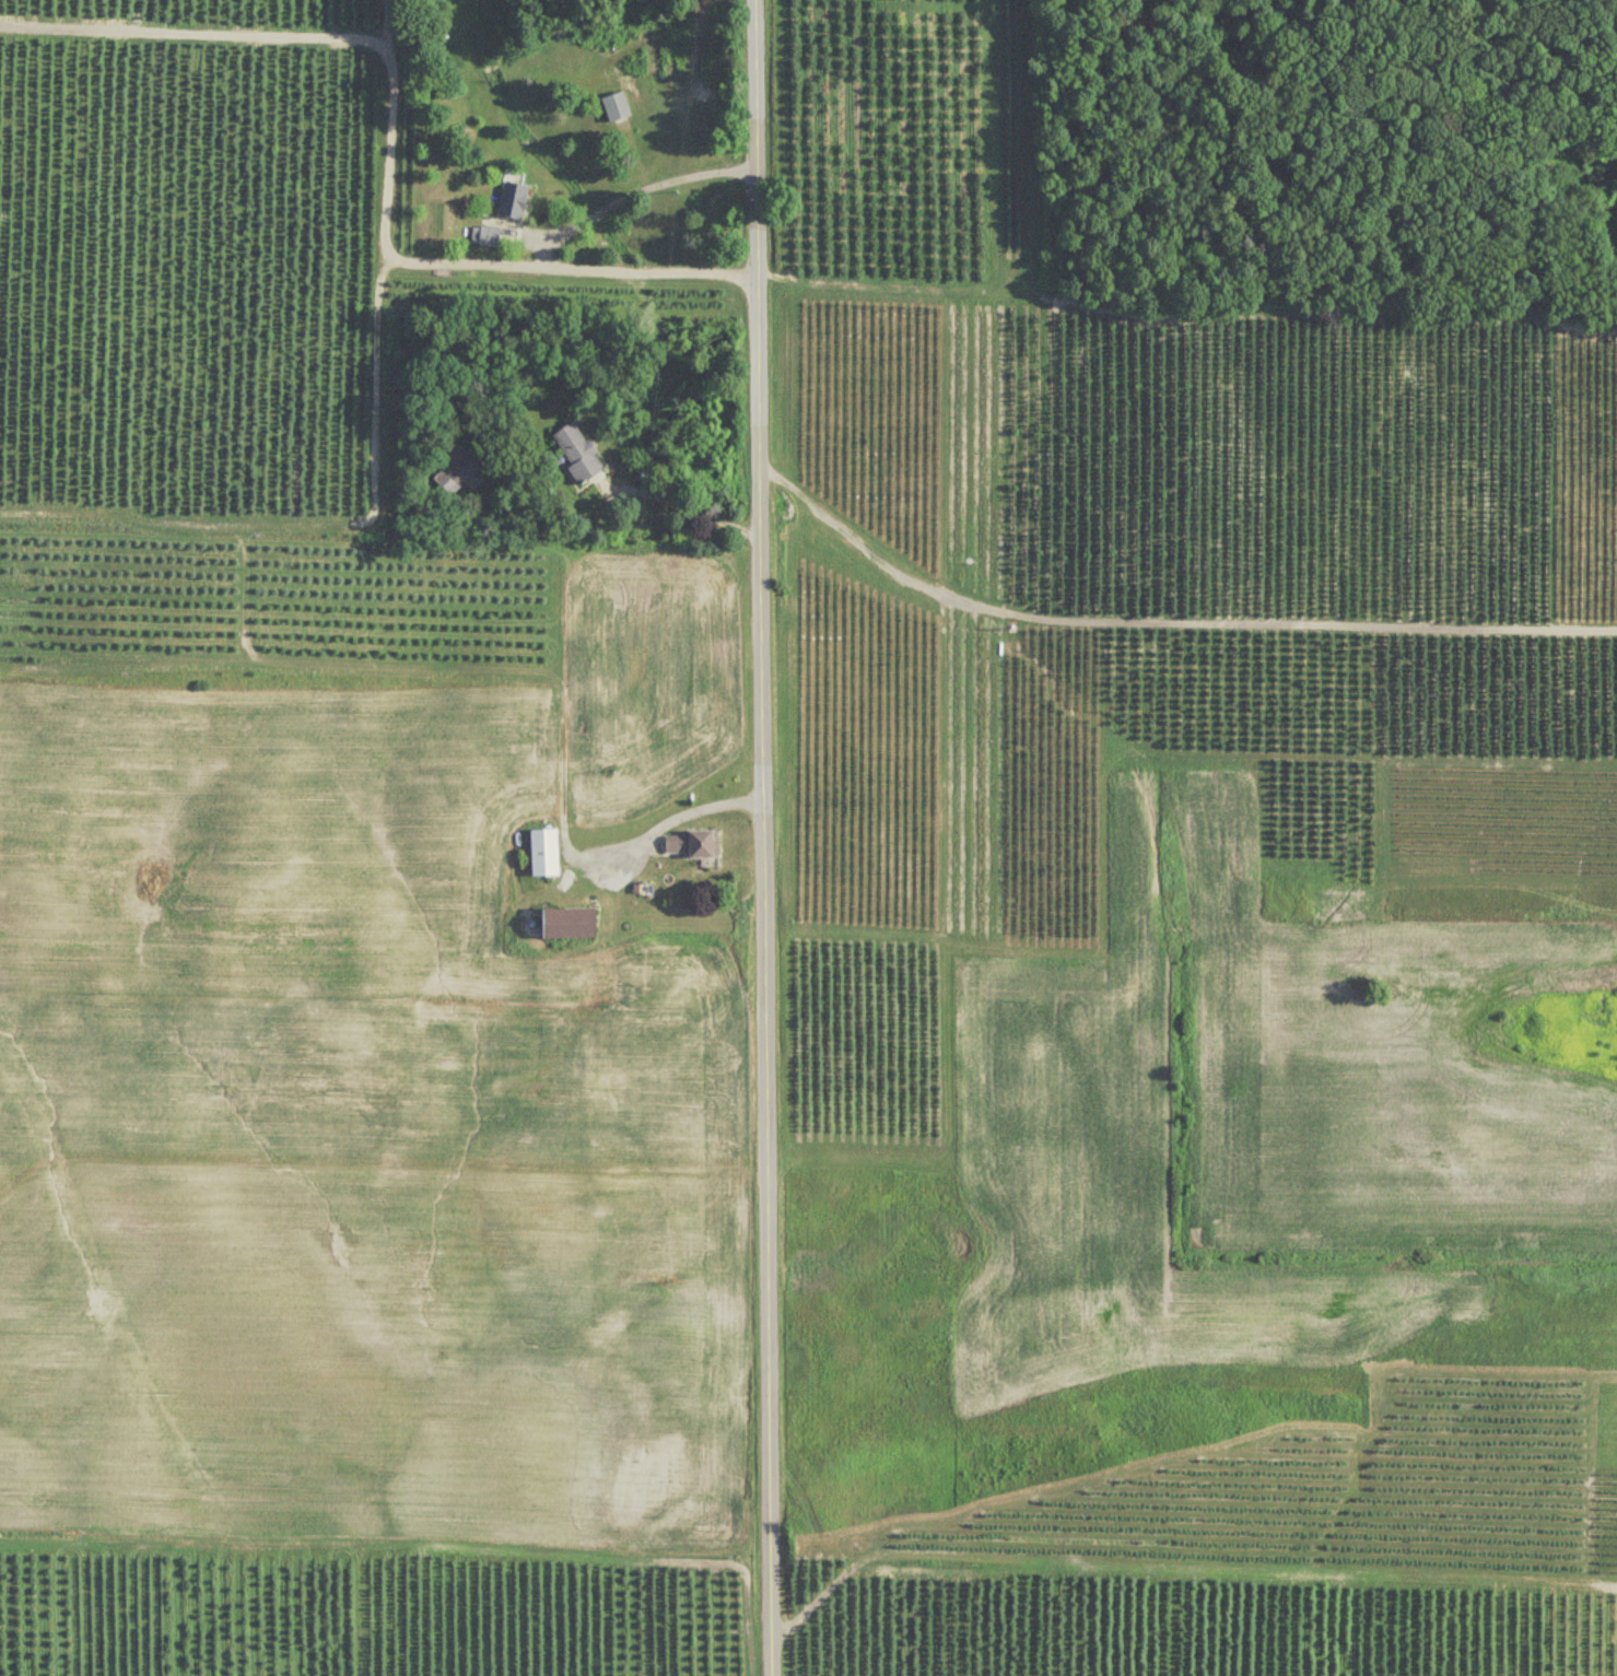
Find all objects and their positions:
building: (618, 108)
road: (390, 140)
road: (634, 187)
building: (515, 198)
building: (487, 237)
building: (579, 454)
building: (456, 472)
road: (680, 504)
road: (1165, 620)
road: (698, 810)
road: (764, 837)
building: (693, 844)
building: (546, 854)
building: (571, 924)

